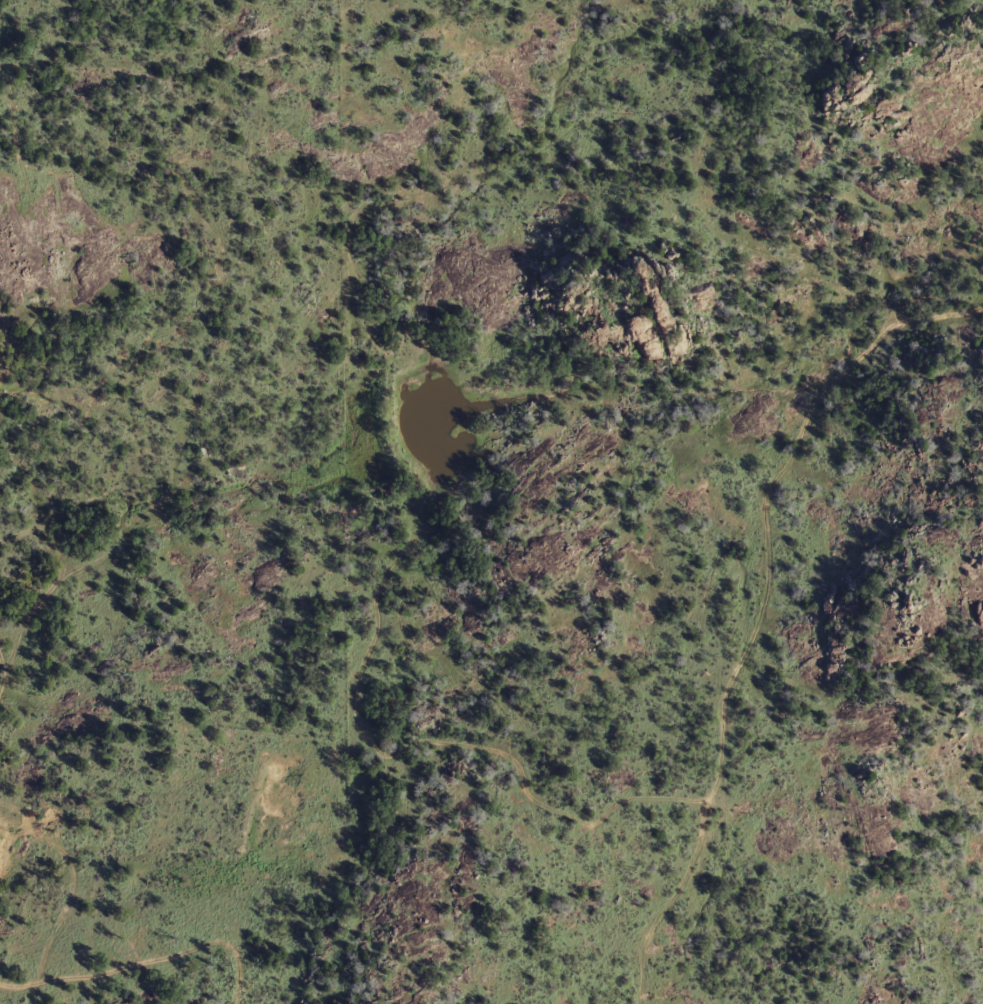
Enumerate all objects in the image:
road: (54, 588)
road: (67, 896)

